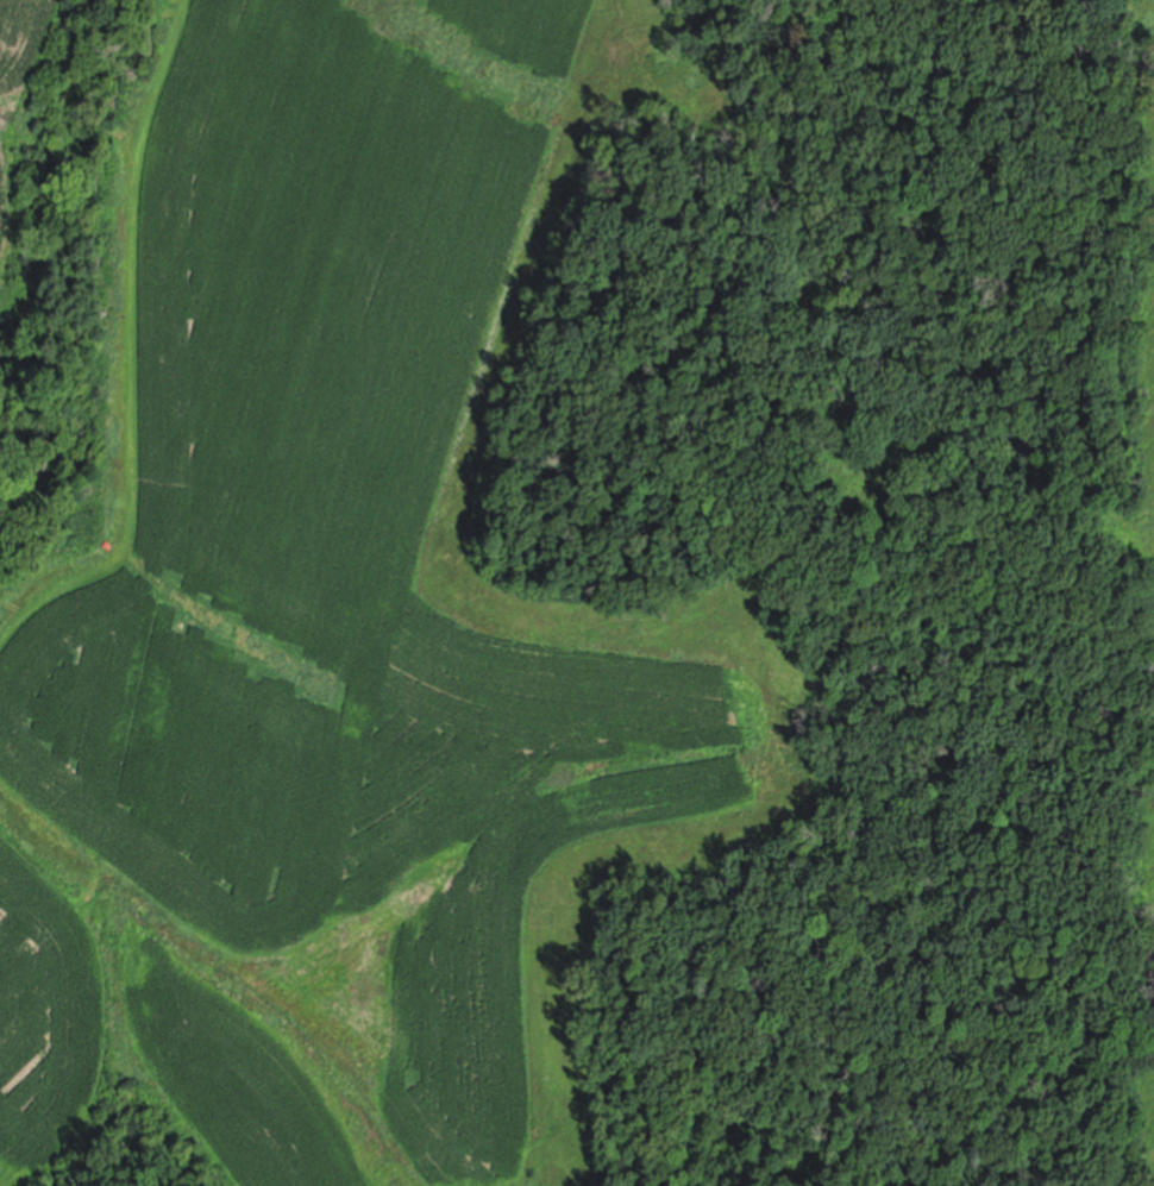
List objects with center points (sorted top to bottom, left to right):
road: (125, 346)

